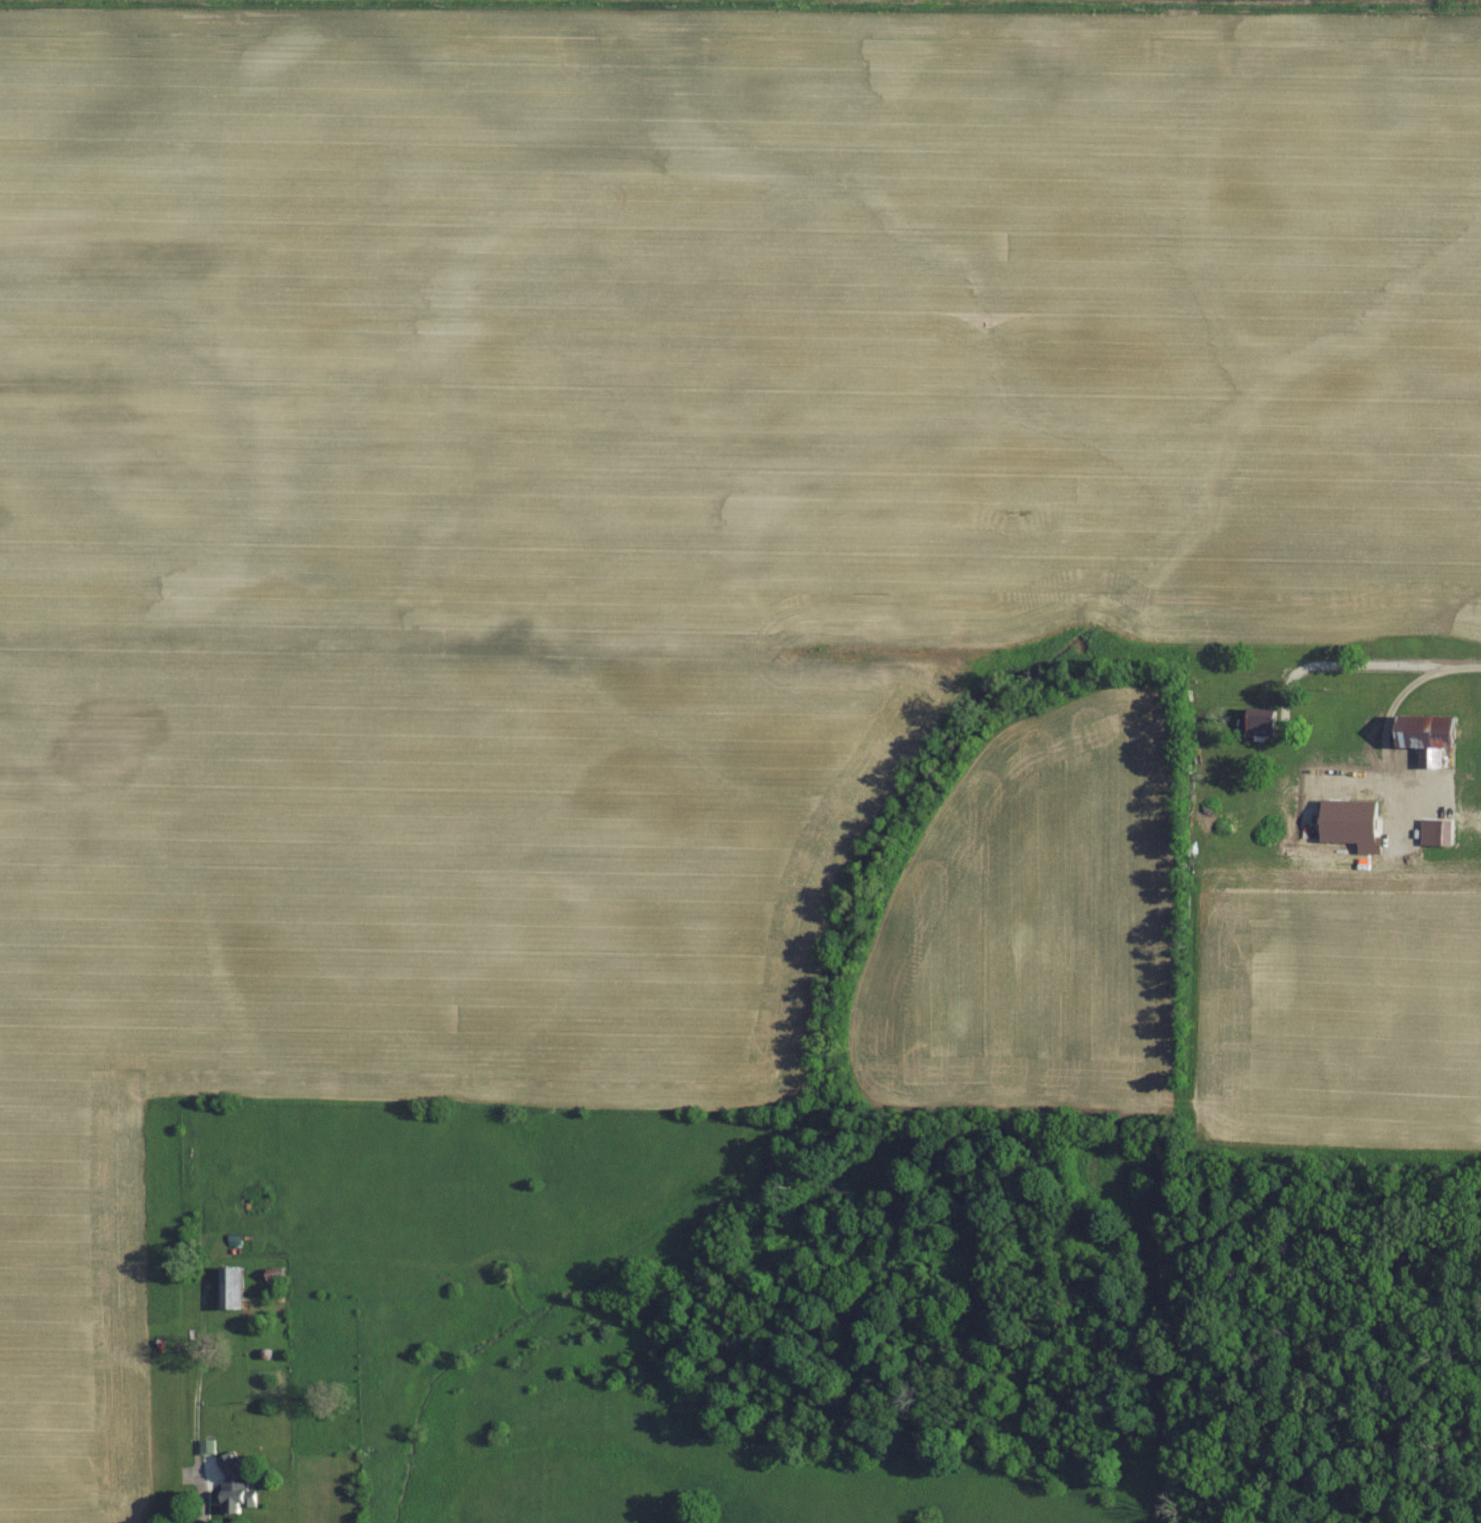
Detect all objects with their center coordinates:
road: (1422, 676)
building: (1433, 733)
building: (1381, 831)
building: (234, 1287)
building: (238, 1483)

